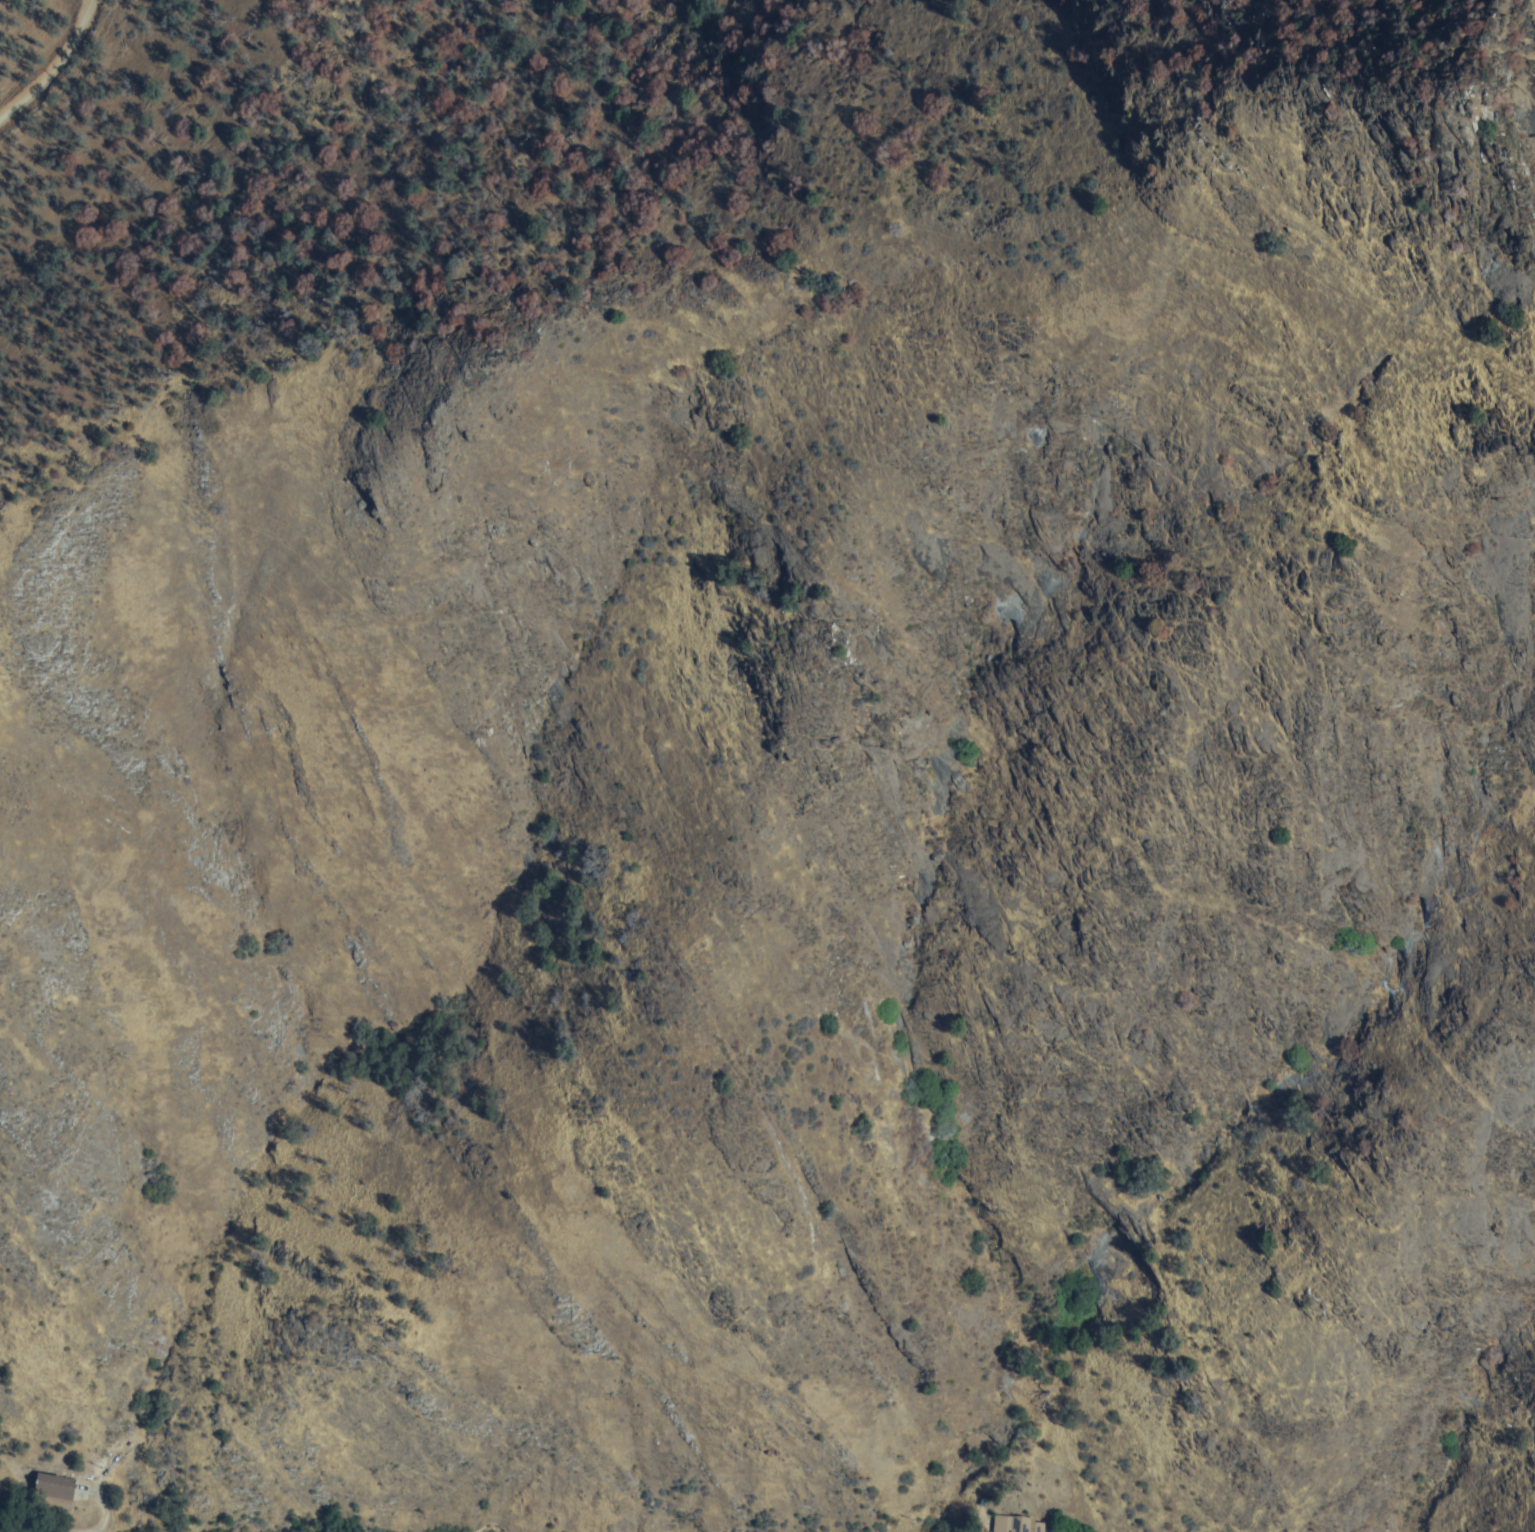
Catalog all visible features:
road: (50, 53)
building: (51, 1489)
building: (1016, 1525)

